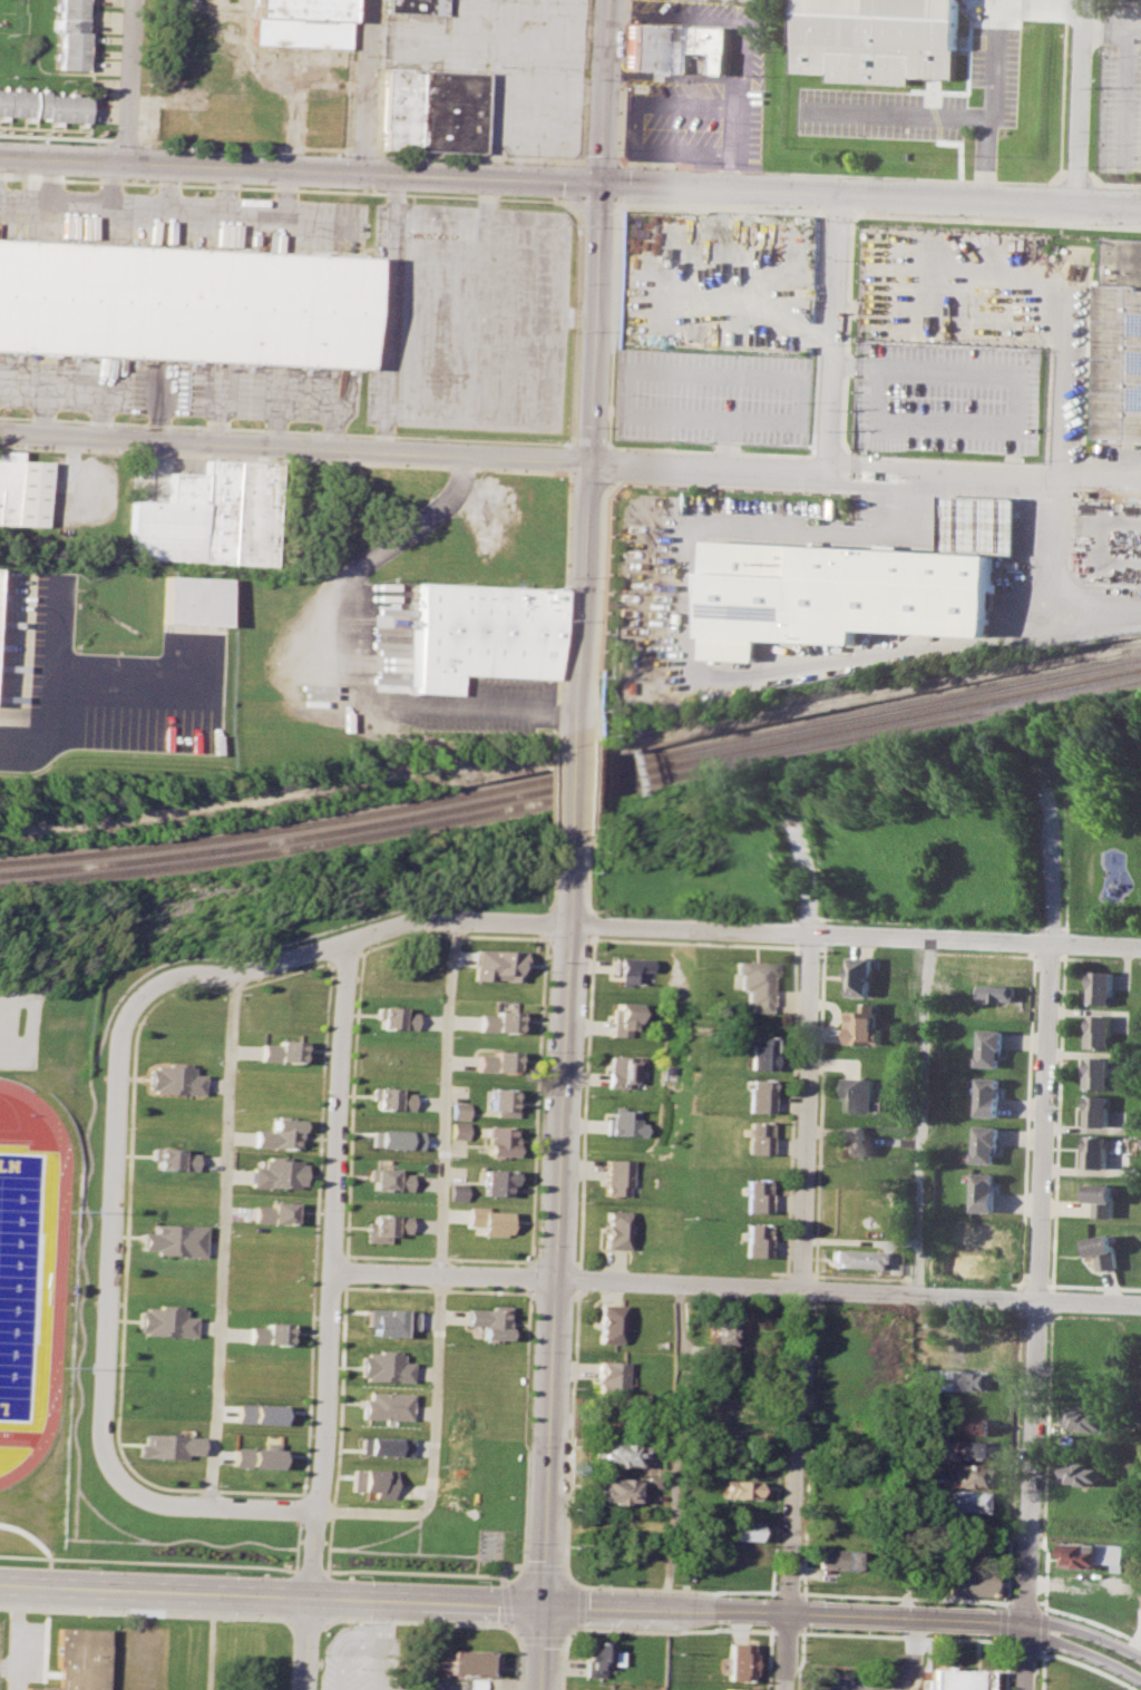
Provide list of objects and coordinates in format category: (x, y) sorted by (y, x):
road: (1042, 1)
building: (417, 6)
road: (715, 19)
building: (301, 22)
building: (70, 33)
building: (879, 40)
building: (676, 49)
parking lot: (995, 50)
road: (497, 52)
road: (1125, 62)
road: (622, 79)
road: (585, 80)
road: (128, 82)
parking lot: (700, 87)
road: (363, 88)
road: (604, 92)
road: (1080, 102)
building: (43, 106)
building: (433, 113)
road: (955, 115)
road: (635, 123)
road: (56, 135)
street lamp: (18, 138)
road: (125, 138)
street lamp: (103, 141)
road: (244, 144)
street lamp: (162, 145)
road: (735, 148)
street lamp: (248, 149)
road: (361, 149)
street lamp: (335, 153)
road: (479, 155)
street lamp: (417, 157)
road: (987, 159)
street lamp: (507, 160)
road: (602, 160)
street lamp: (579, 164)
road: (1075, 172)
road: (300, 173)
road: (843, 174)
road: (581, 182)
road: (1111, 184)
road: (287, 188)
road: (871, 197)
street lamp: (624, 199)
street lamp: (782, 206)
street lamp: (943, 214)
parking lot: (184, 219)
street lamp: (850, 222)
street lamp: (1101, 222)
building: (186, 303)
road: (390, 314)
parking lot: (467, 316)
road: (576, 323)
road: (835, 333)
building: (1121, 339)
road: (1073, 362)
road: (975, 371)
parking lot: (178, 387)
parking lot: (712, 394)
parking lot: (947, 394)
road: (286, 429)
road: (415, 452)
road: (572, 457)
road: (285, 458)
road: (589, 463)
road: (950, 475)
road: (1105, 479)
building: (23, 491)
building: (213, 518)
road: (1052, 538)
road: (364, 563)
road: (687, 576)
building: (857, 585)
road: (601, 595)
building: (193, 599)
road: (1100, 604)
road: (565, 608)
building: (482, 635)
road: (90, 678)
road: (469, 706)
railway: (572, 772)
road: (597, 781)
railway: (572, 784)
road: (576, 784)
road: (553, 791)
railway: (572, 794)
road: (815, 812)
park: (907, 837)
road: (1069, 851)
road: (550, 872)
road: (812, 872)
road: (1052, 872)
road: (594, 911)
road: (701, 911)
road: (796, 916)
road: (810, 916)
road: (823, 917)
road: (894, 919)
road: (545, 922)
road: (593, 925)
road: (796, 930)
road: (823, 931)
road: (455, 934)
road: (855, 936)
road: (542, 938)
road: (334, 940)
road: (798, 946)
road: (825, 946)
road: (811, 947)
road: (1049, 956)
road: (1035, 957)
road: (1102, 958)
building: (495, 965)
building: (631, 968)
building: (860, 975)
building: (754, 981)
building: (1100, 986)
building: (996, 991)
road: (794, 1008)
building: (388, 1016)
building: (624, 1018)
building: (498, 1022)
building: (866, 1024)
road: (25, 1026)
parking lot: (16, 1028)
building: (1098, 1030)
building: (991, 1045)
building: (274, 1049)
building: (760, 1052)
building: (497, 1062)
road: (1028, 1069)
building: (623, 1071)
building: (1095, 1072)
building: (170, 1080)
building: (860, 1093)
building: (759, 1095)
building: (987, 1095)
building: (384, 1097)
building: (501, 1102)
road: (586, 1102)
building: (456, 1110)
building: (1095, 1110)
road: (818, 1112)
road: (1057, 1117)
building: (625, 1122)
building: (456, 1130)
building: (270, 1133)
building: (757, 1136)
building: (390, 1139)
building: (498, 1140)
building: (855, 1141)
building: (985, 1144)
building: (1094, 1151)
building: (167, 1157)
building: (267, 1173)
building: (617, 1176)
building: (382, 1179)
building: (496, 1182)
building: (454, 1191)
building: (984, 1191)
building: (755, 1195)
building: (1100, 1199)
building: (266, 1212)
road: (560, 1215)
building: (487, 1220)
building: (377, 1227)
building: (615, 1228)
building: (168, 1238)
building: (754, 1239)
road: (215, 1240)
park: (8, 1242)
building: (1102, 1250)
road: (435, 1257)
road: (109, 1258)
building: (850, 1258)
track: (25, 1259)
road: (435, 1268)
road: (321, 1270)
road: (337, 1270)
road: (440, 1274)
road: (530, 1276)
road: (579, 1277)
road: (917, 1278)
road: (786, 1282)
road: (1021, 1283)
road: (1036, 1283)
road: (1093, 1286)
road: (1052, 1287)
road: (432, 1288)
road: (812, 1289)
road: (850, 1290)
road: (1018, 1298)
road: (1051, 1300)
road: (798, 1311)
road: (1034, 1316)
road: (1094, 1316)
building: (488, 1320)
building: (159, 1321)
building: (382, 1321)
building: (609, 1323)
building: (263, 1331)
building: (716, 1334)
building: (986, 1354)
building: (376, 1366)
building: (611, 1376)
building: (976, 1379)
building: (377, 1405)
building: (253, 1414)
building: (1085, 1419)
road: (331, 1426)
building: (973, 1426)
road: (570, 1427)
road: (524, 1428)
building: (928, 1443)
building: (377, 1445)
building: (165, 1446)
road: (807, 1447)
building: (971, 1448)
building: (618, 1452)
building: (252, 1457)
road: (1045, 1462)
building: (1083, 1473)
building: (968, 1475)
building: (367, 1482)
building: (651, 1482)
building: (738, 1487)
building: (613, 1489)
building: (963, 1501)
road: (220, 1506)
building: (741, 1530)
street lamp: (1038, 1537)
street lamp: (525, 1542)
building: (1093, 1555)
building: (836, 1559)
road: (1005, 1560)
road: (148, 1561)
road: (508, 1566)
road: (544, 1566)
street lamp: (89, 1567)
road: (309, 1570)
street lamp: (224, 1571)
road: (415, 1571)
street lamp: (358, 1575)
road: (514, 1576)
road: (569, 1577)
street lamp: (477, 1580)
street lamp: (597, 1583)
building: (968, 1583)
street lamp: (714, 1589)
road: (676, 1590)
road: (786, 1595)
road: (271, 1598)
street lamp: (810, 1599)
street lamp: (895, 1602)
road: (506, 1604)
road: (1006, 1604)
road: (1024, 1604)
road: (579, 1606)
street lamp: (994, 1606)
road: (625, 1608)
road: (146, 1612)
street lamp: (88, 1614)
road: (866, 1616)
street lamp: (222, 1620)
road: (412, 1621)
road: (305, 1622)
street lamp: (357, 1622)
road: (382, 1622)
road: (1004, 1622)
road: (1090, 1622)
street lamp: (475, 1628)
street lamp: (712, 1628)
road: (1040, 1629)
road: (672, 1631)
road: (513, 1632)
street lamp: (596, 1632)
road: (1085, 1632)
road: (779, 1633)
road: (19, 1634)
road: (570, 1634)
road: (793, 1634)
street lamp: (1069, 1635)
road: (871, 1637)
road: (542, 1639)
road: (1135, 1639)
road: (146, 1640)
road: (305, 1644)
road: (363, 1644)
road: (543, 1648)
road: (1082, 1653)
road: (292, 1655)
road: (911, 1655)
road: (1006, 1655)
road: (1021, 1655)
parking lot: (360, 1657)
building: (597, 1658)
street lamp: (1037, 1659)
building: (469, 1661)
building: (738, 1661)
building: (76, 1662)
road: (1003, 1663)
road: (519, 1664)
road: (1083, 1665)
road: (1037, 1669)
building: (955, 1679)
parking lot: (856, 1680)
building: (476, 1683)
building: (734, 1688)
building: (581, 1689)

